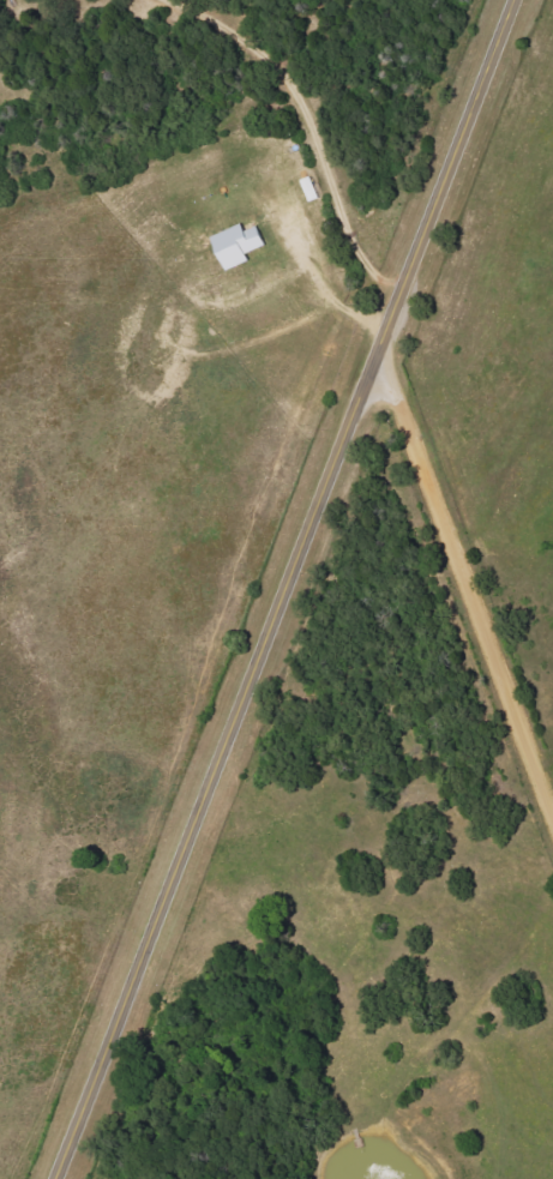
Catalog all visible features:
road: (300, 121)
building: (241, 246)
road: (320, 284)
road: (465, 581)
road: (285, 590)

